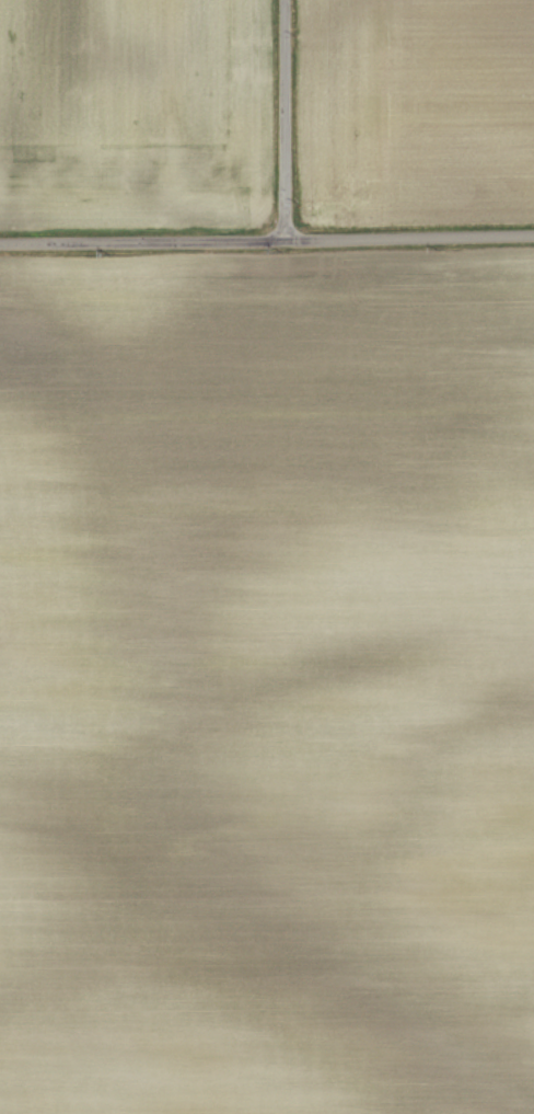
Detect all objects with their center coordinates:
road: (285, 119)
road: (266, 240)

